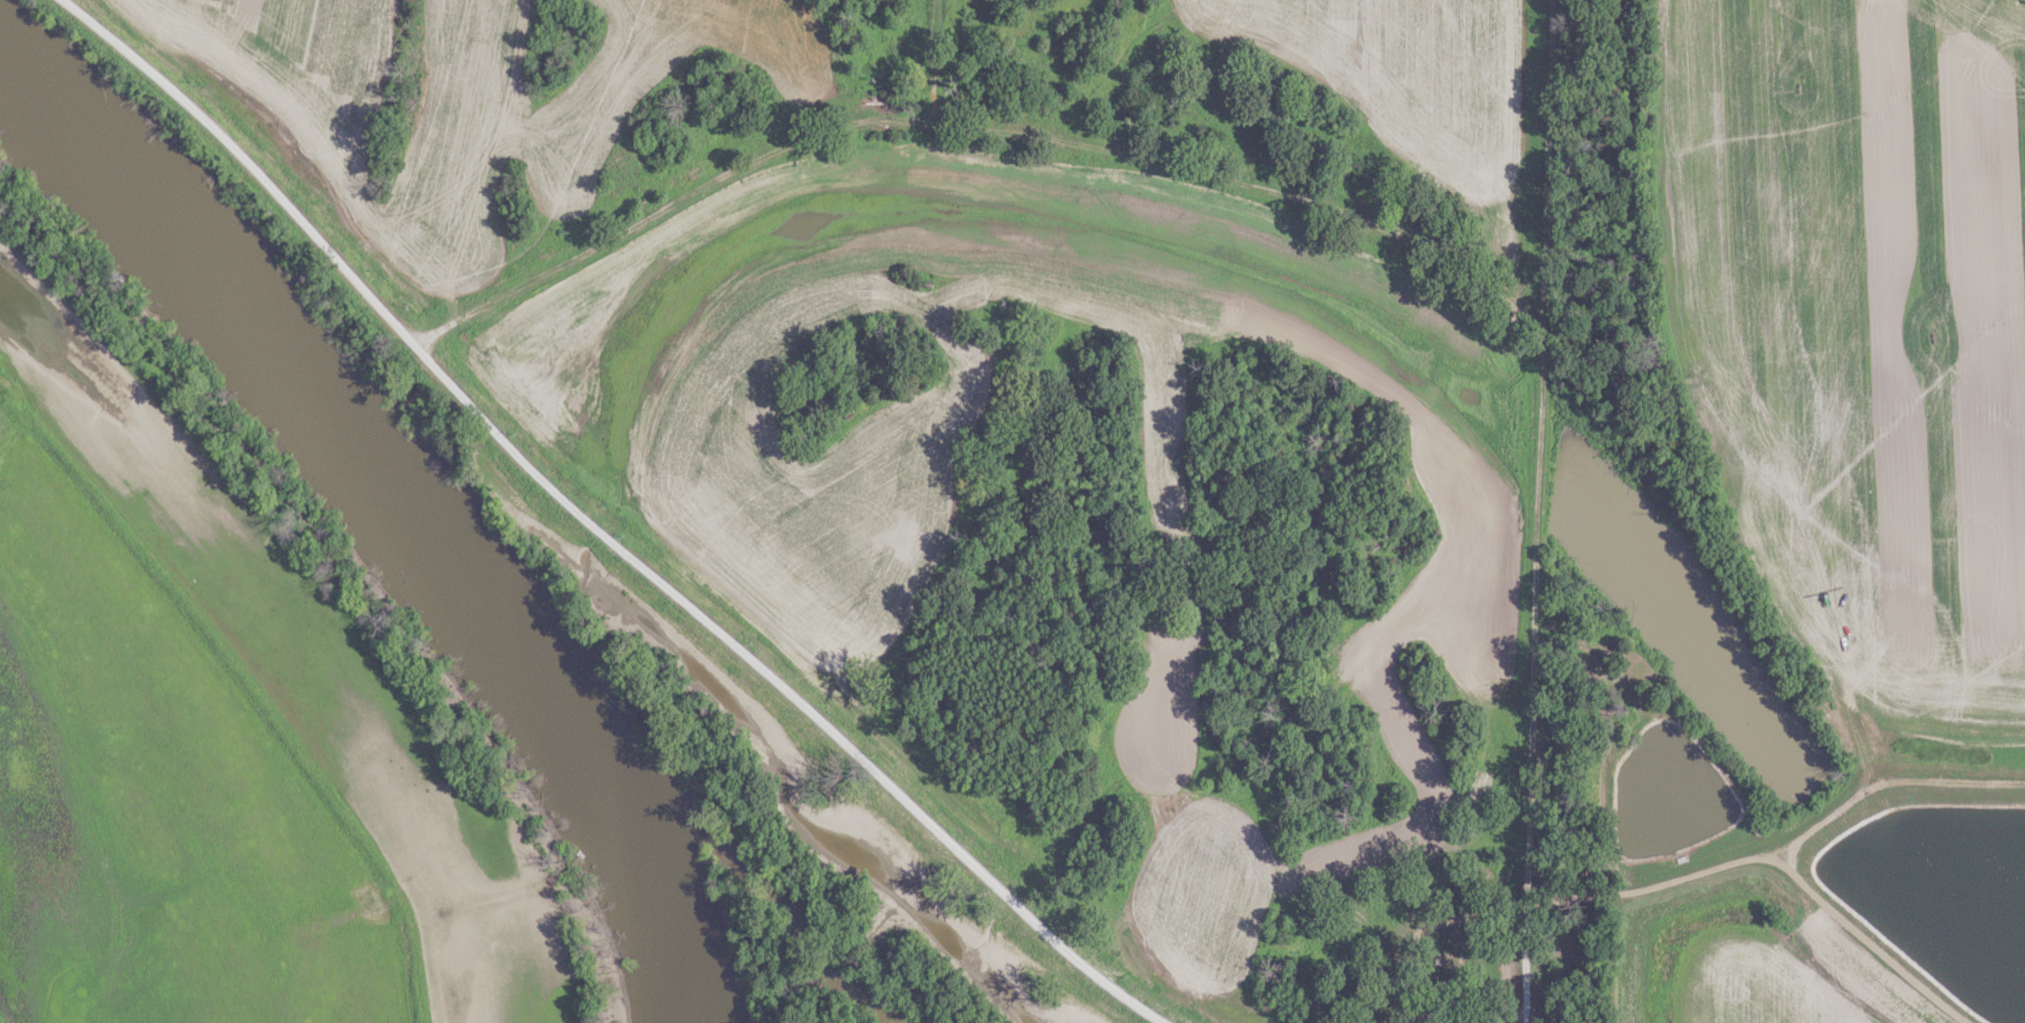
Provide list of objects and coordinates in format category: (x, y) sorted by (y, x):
road: (600, 532)

